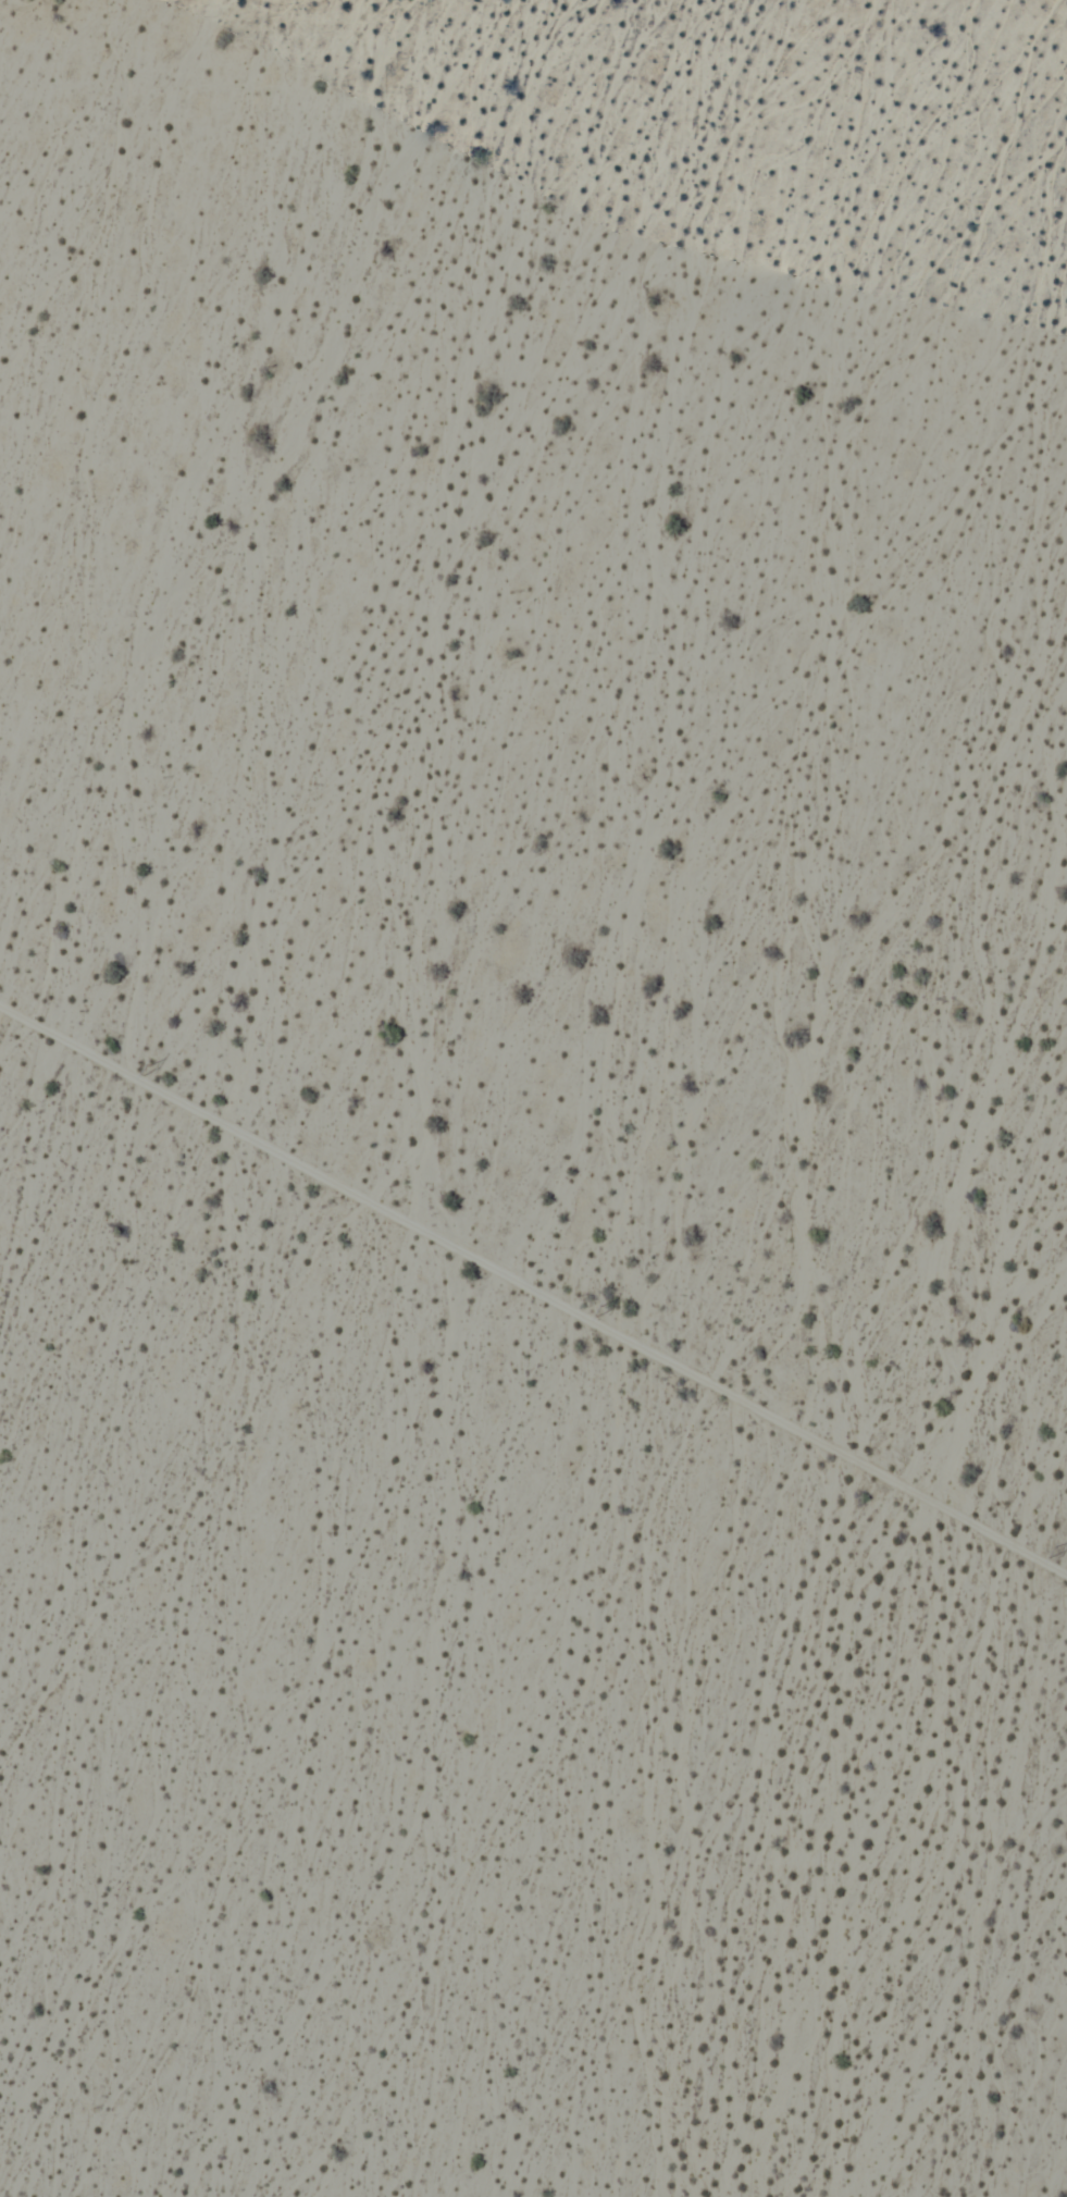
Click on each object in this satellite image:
power tower: (145, 1070)
power tower: (611, 1318)
power tower: (1049, 1550)

